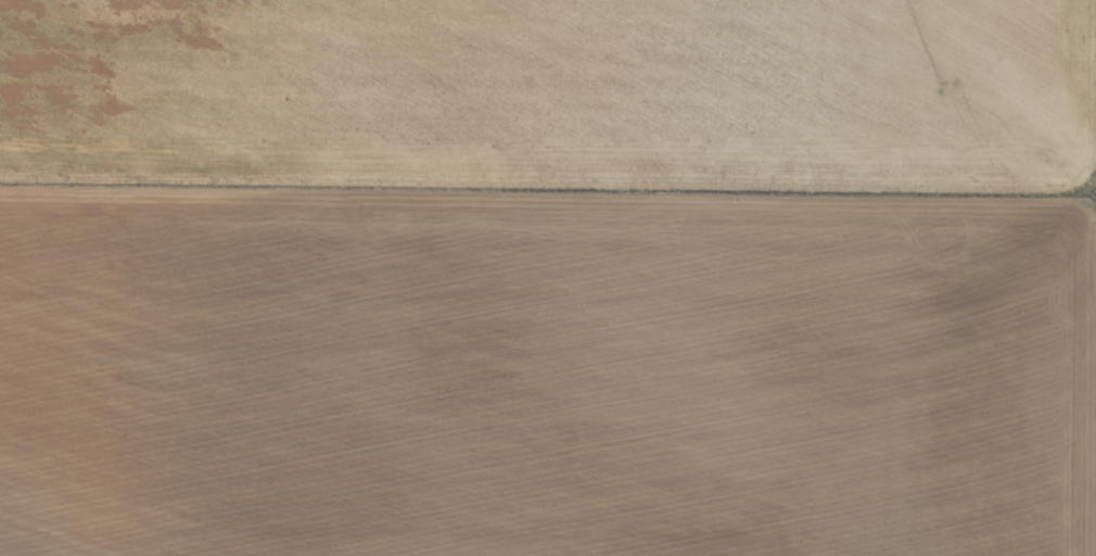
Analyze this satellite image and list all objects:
road: (1087, 278)

